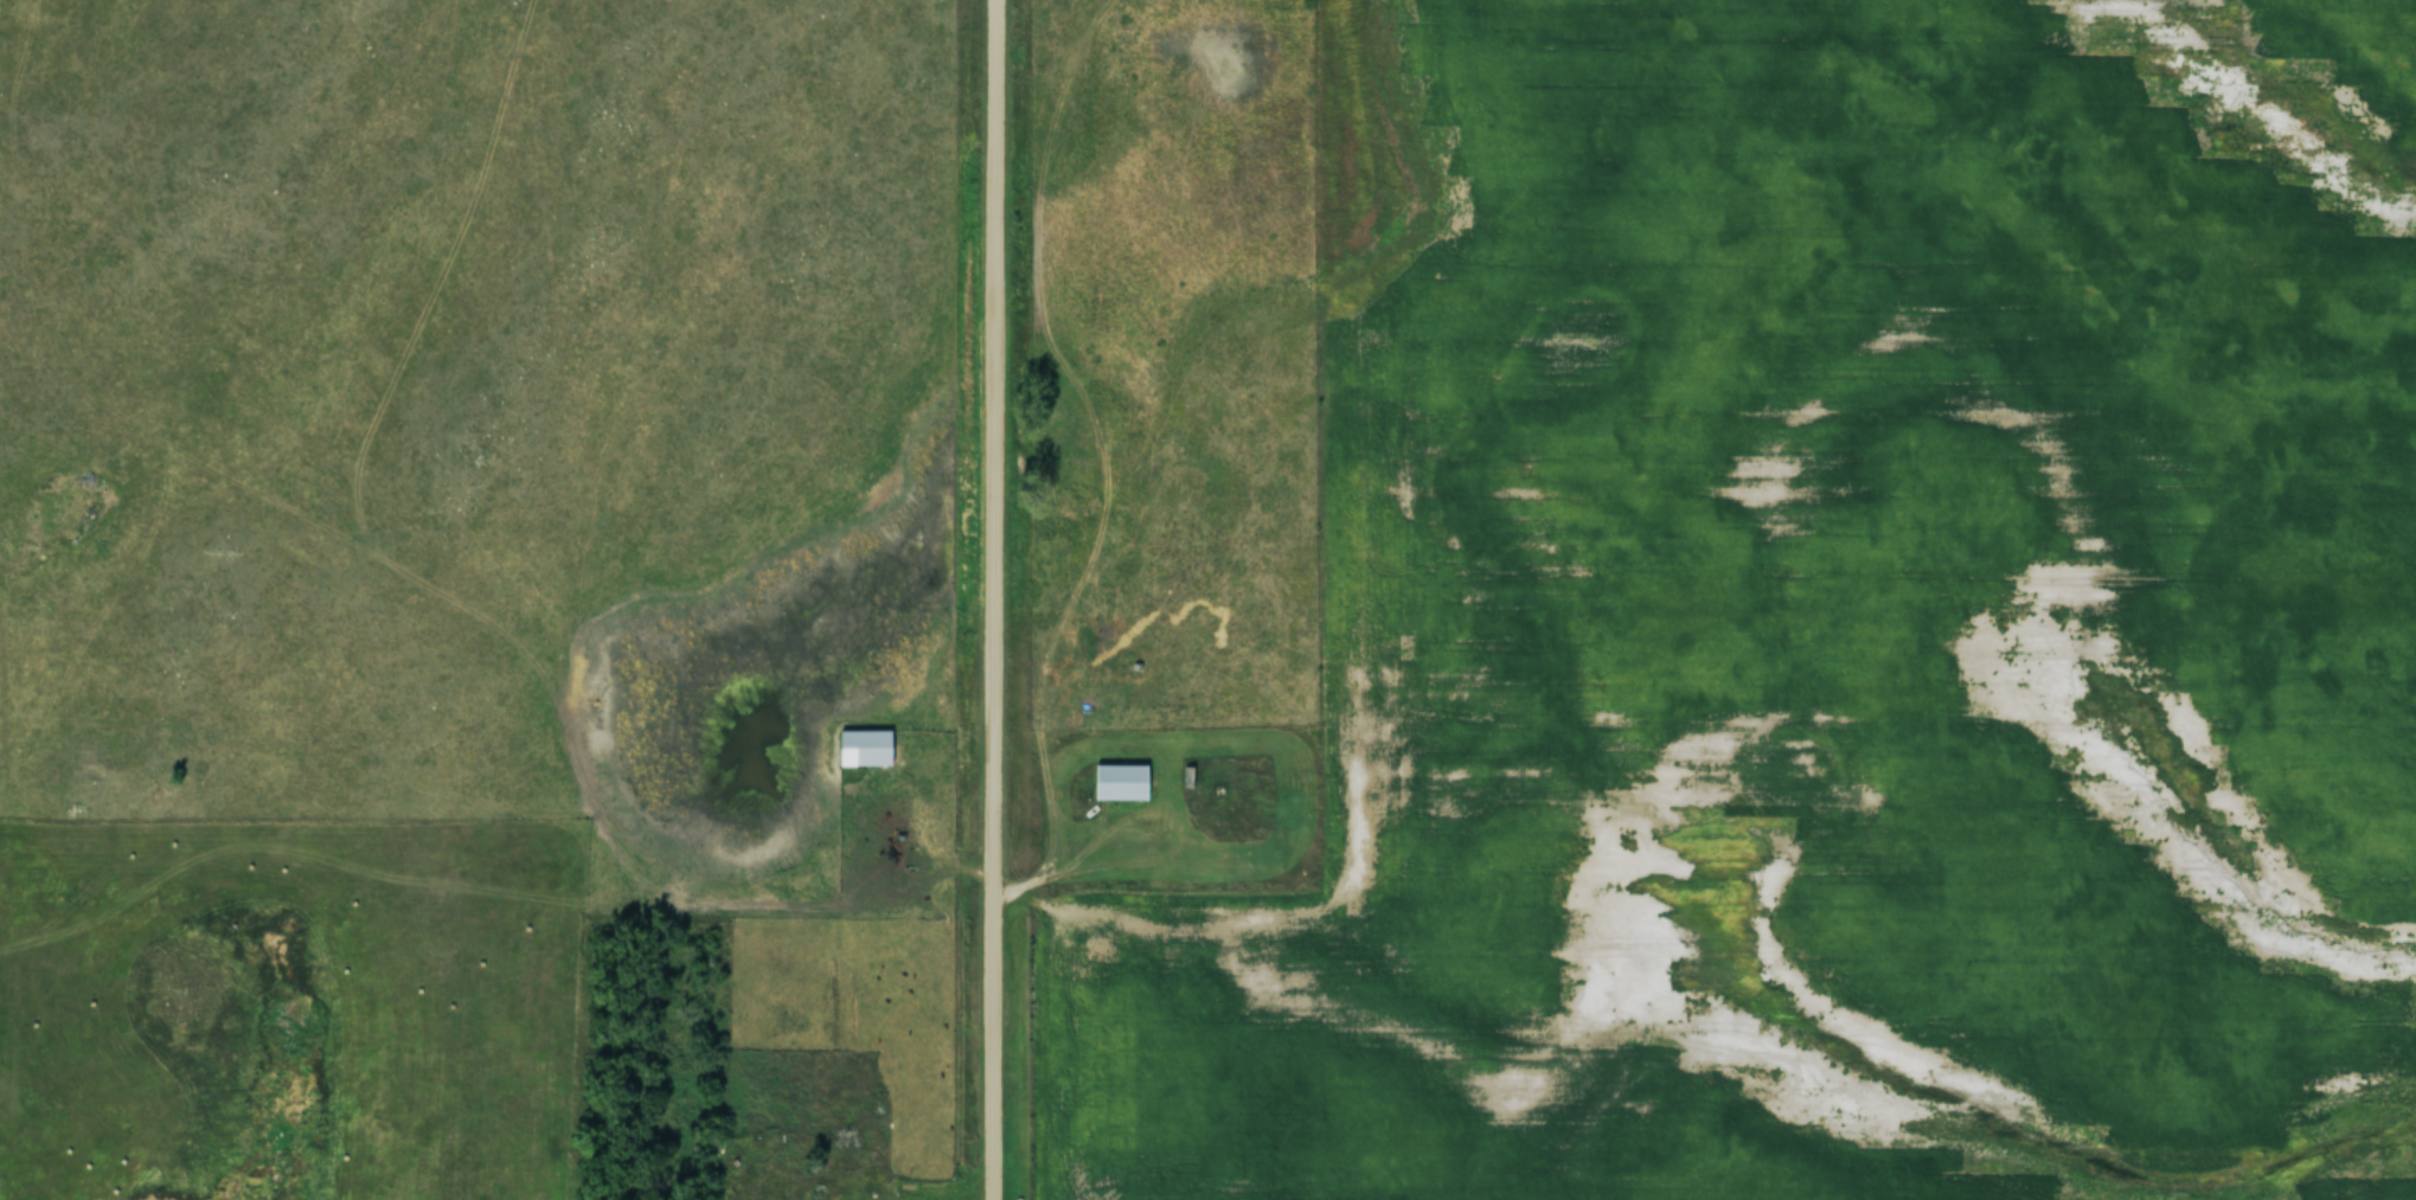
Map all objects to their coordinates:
road: (994, 599)
building: (866, 745)
building: (1122, 779)

